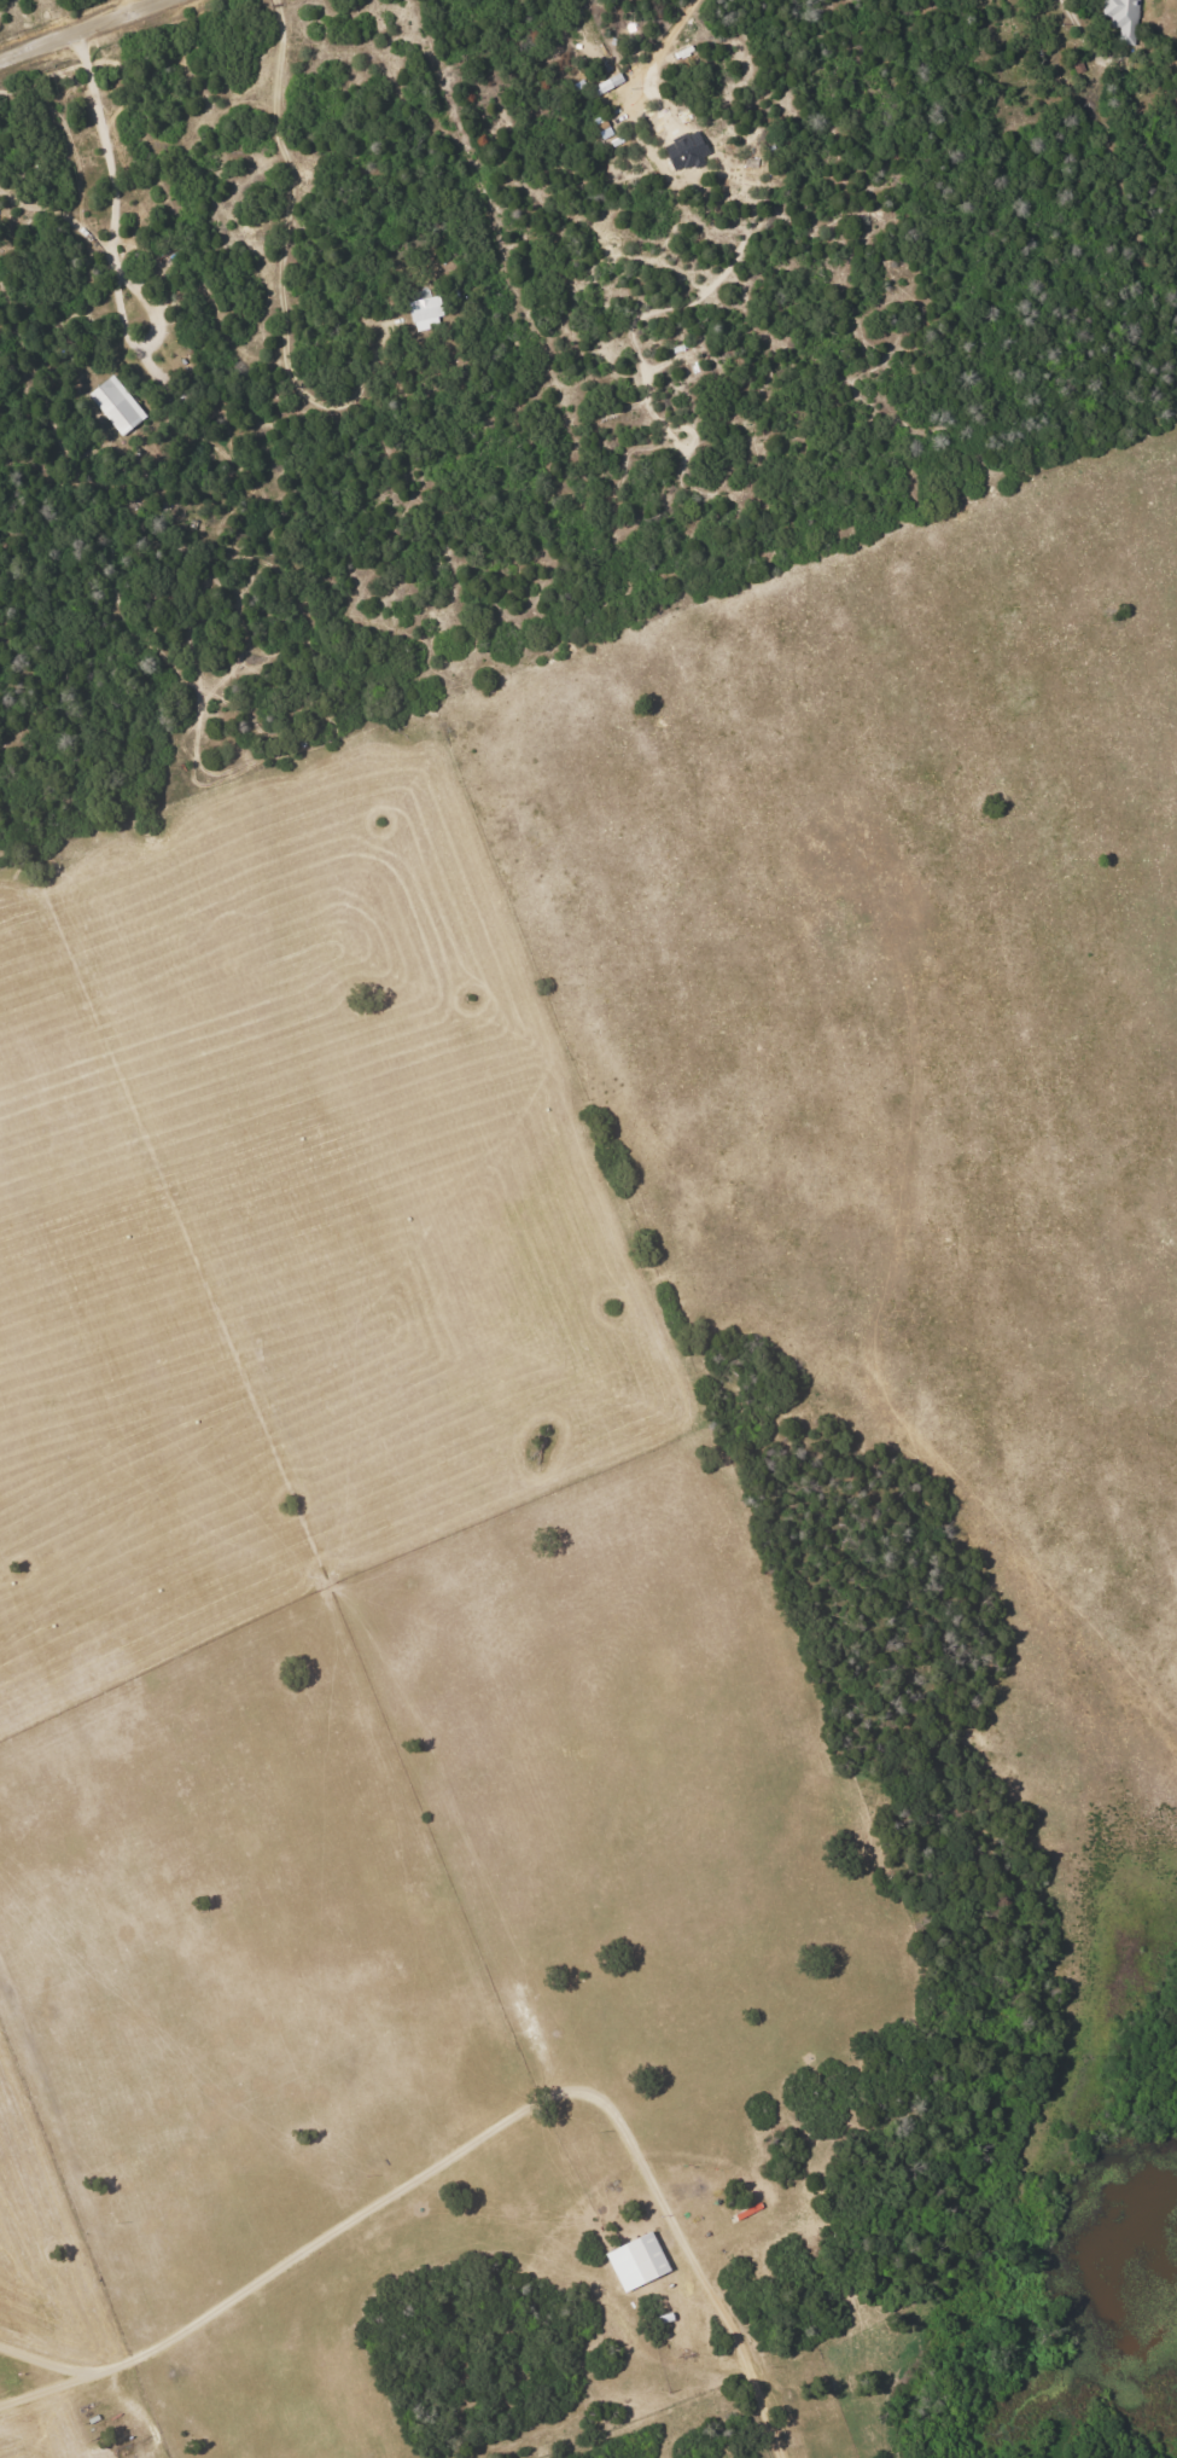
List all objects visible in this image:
road: (126, 8)
building: (1121, 18)
road: (663, 30)
road: (86, 31)
road: (1077, 35)
road: (279, 263)
building: (425, 314)
building: (117, 405)
building: (636, 2262)
road: (765, 2404)

